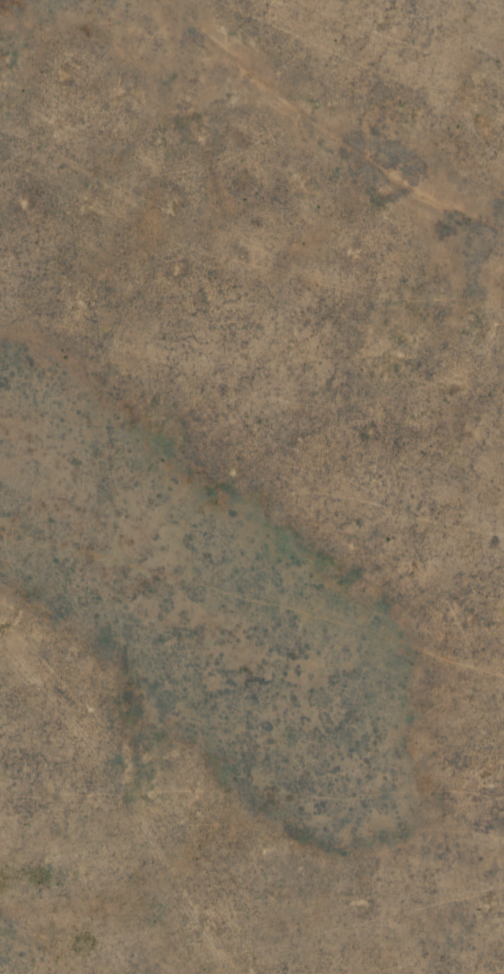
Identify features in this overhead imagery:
road: (80, 673)
road: (414, 835)

